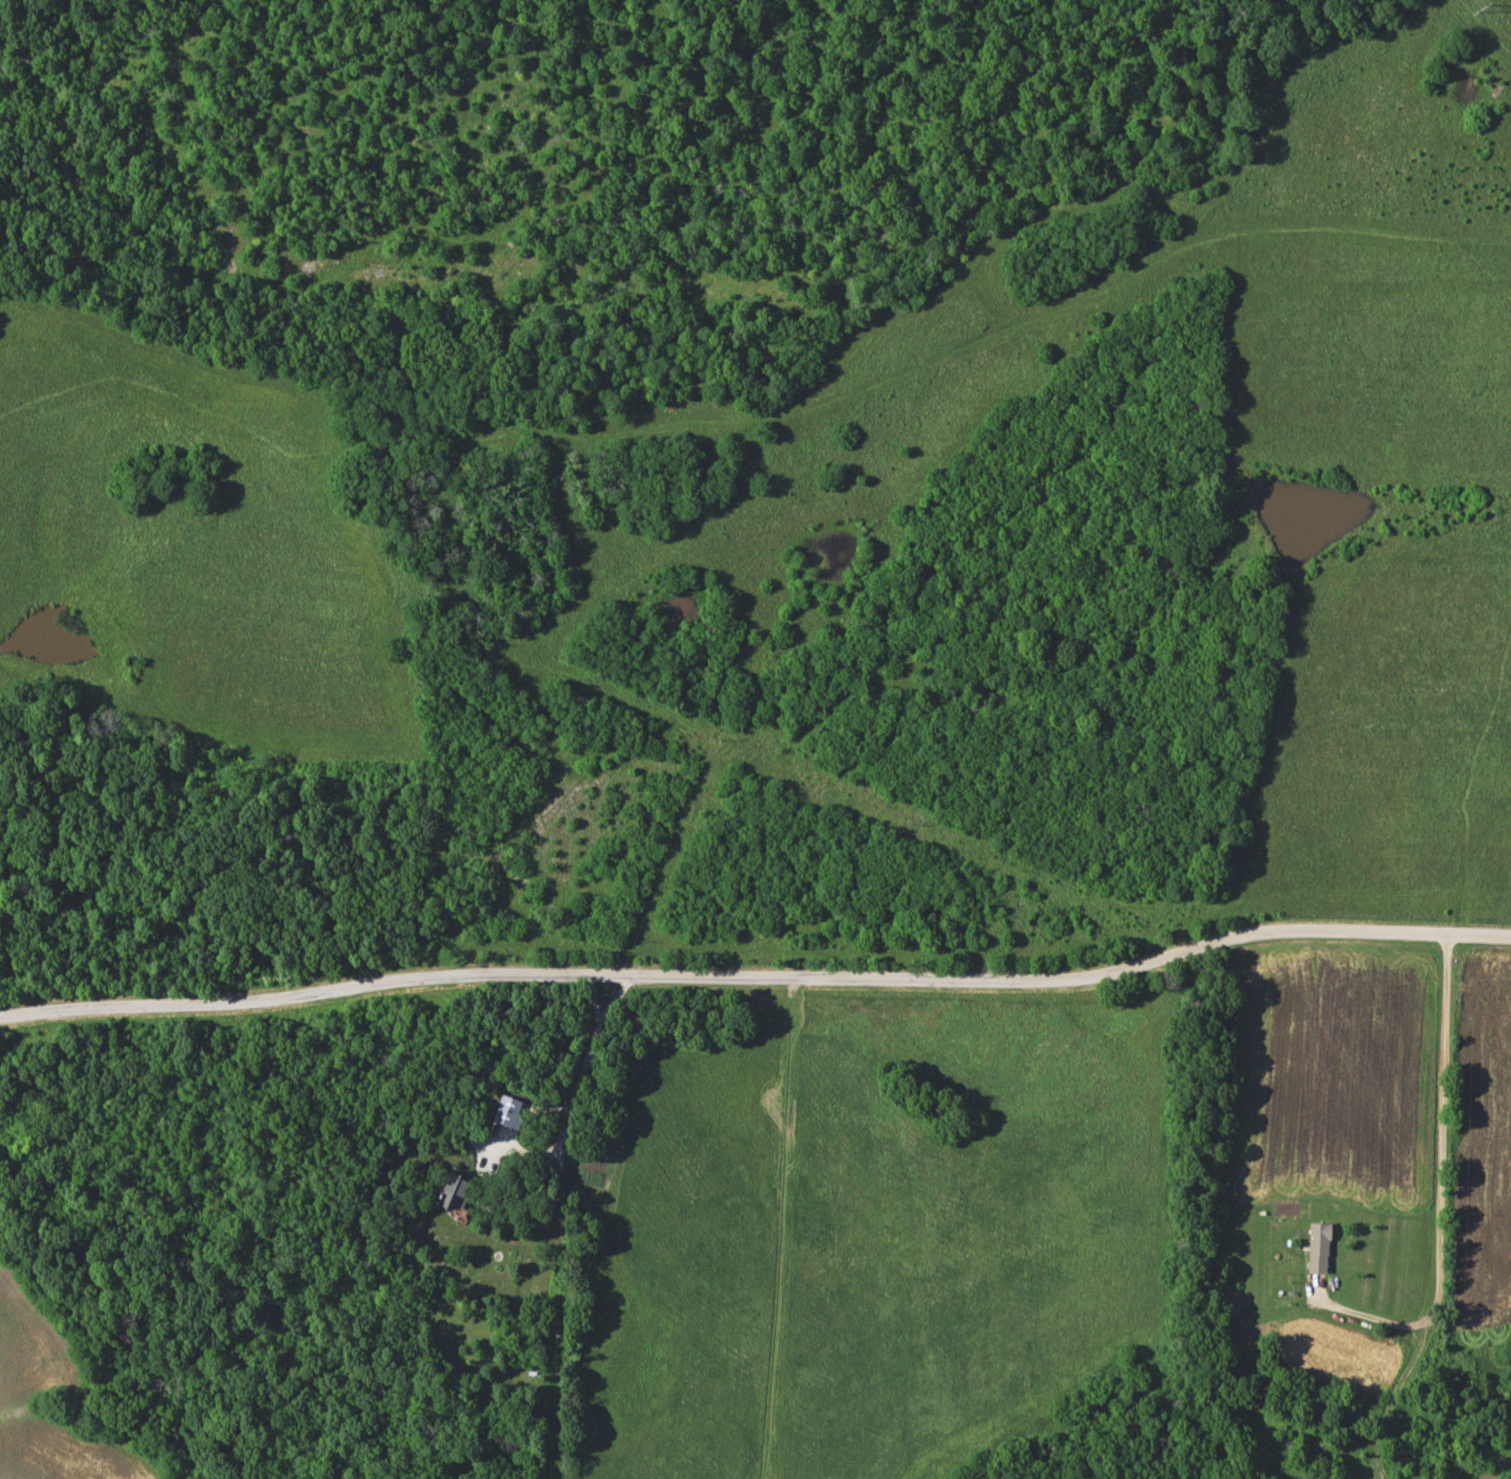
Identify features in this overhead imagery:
power tower: (1480, 6)
road: (756, 978)
road: (594, 999)
road: (575, 1091)
road: (1438, 1182)
building: (458, 1194)
building: (1322, 1249)

